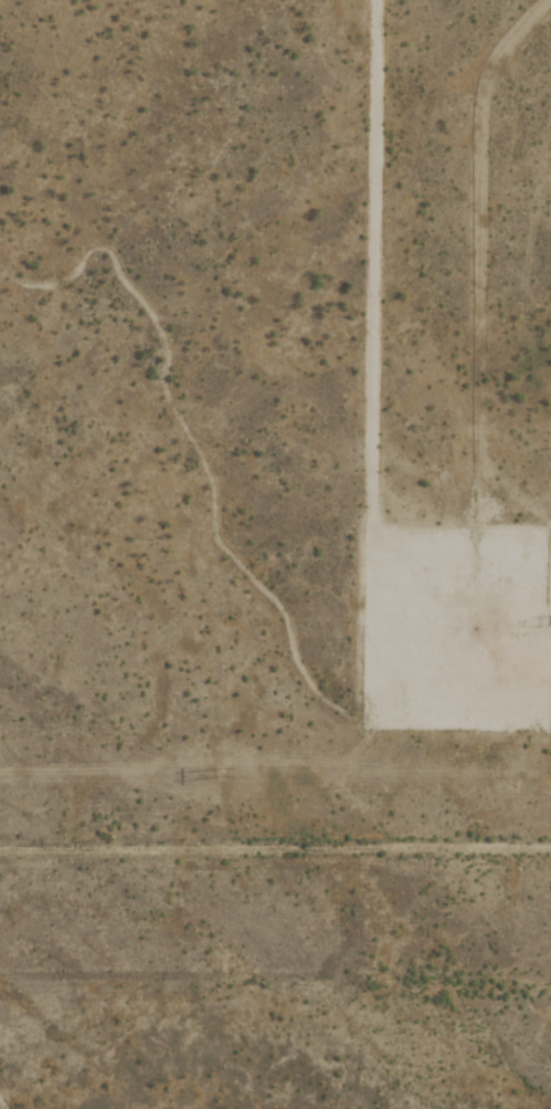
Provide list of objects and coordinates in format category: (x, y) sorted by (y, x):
power tower: (220, 773)

